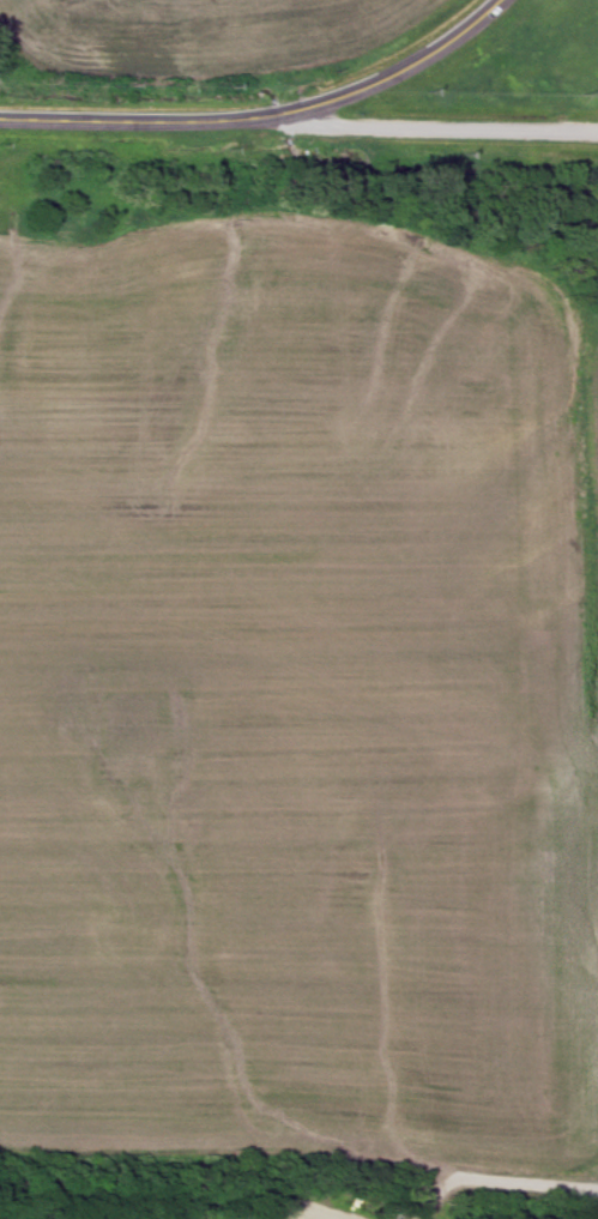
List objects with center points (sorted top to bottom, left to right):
crop: (198, 36)
road: (266, 117)
road: (433, 129)
crop: (296, 706)

